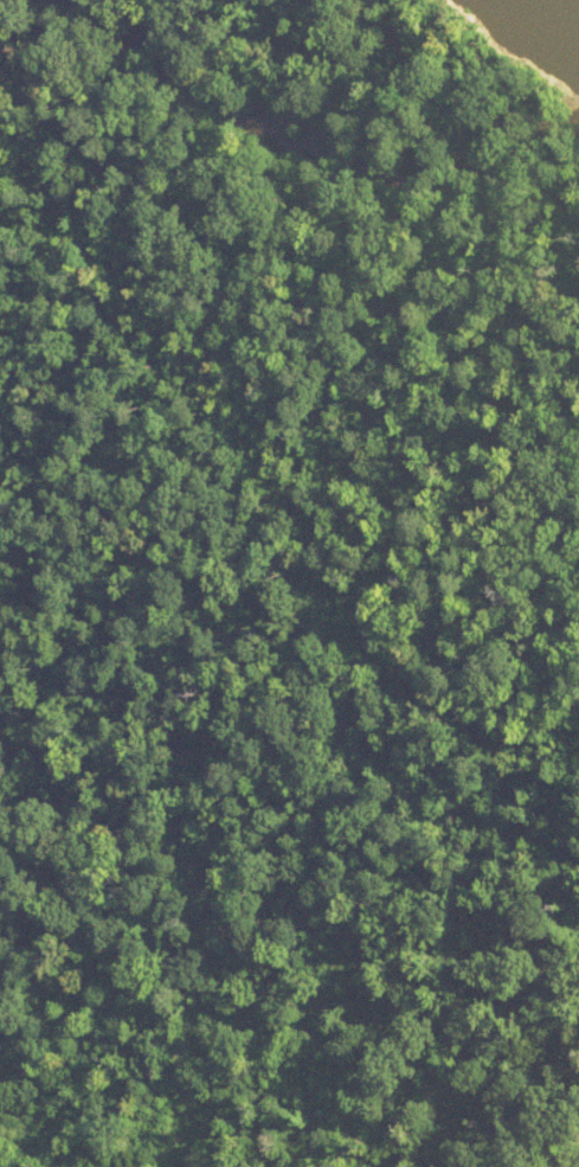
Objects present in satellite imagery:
road: (9, 190)

